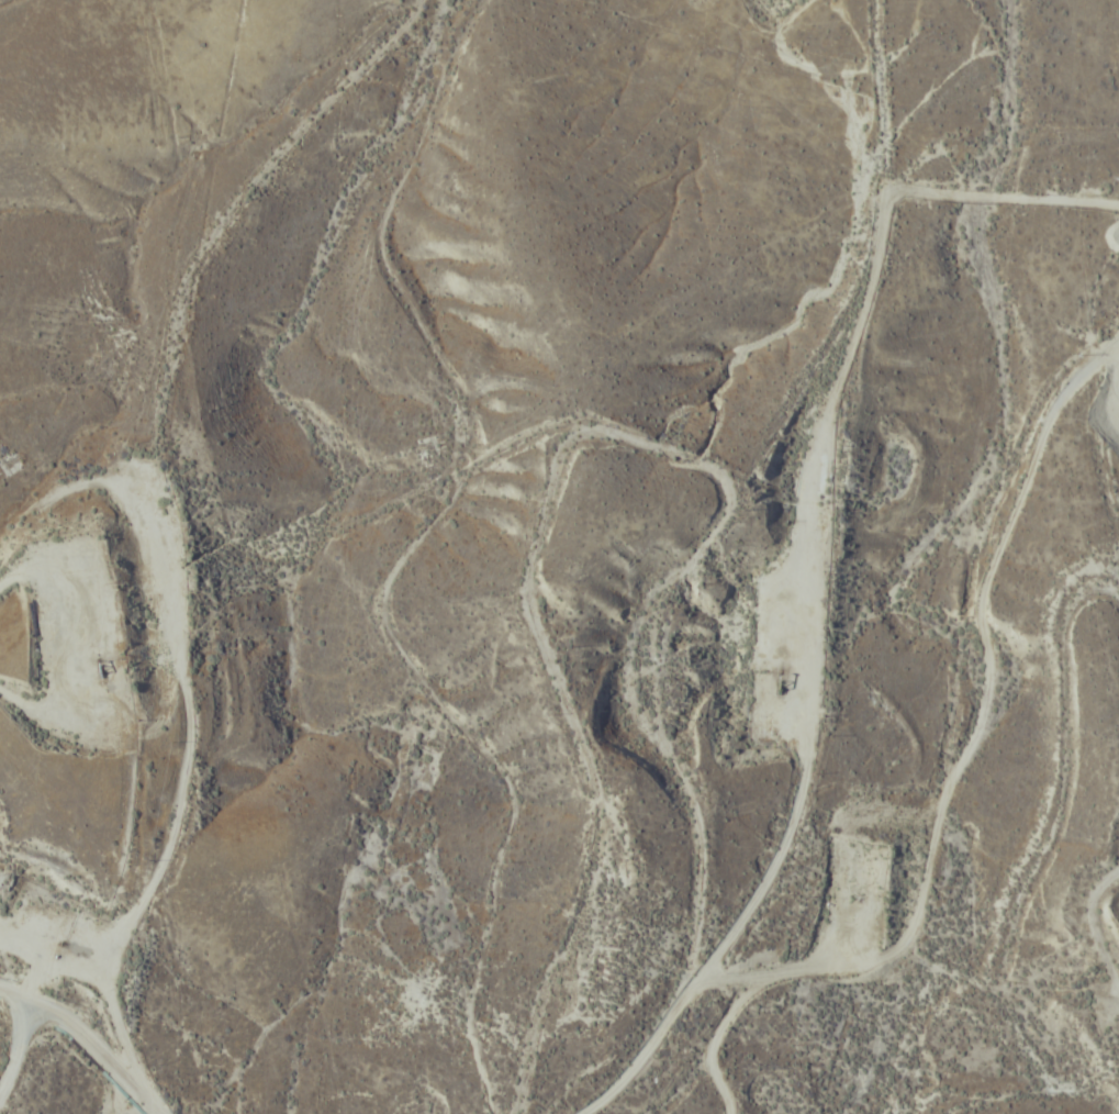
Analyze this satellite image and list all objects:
road: (58, 1077)

